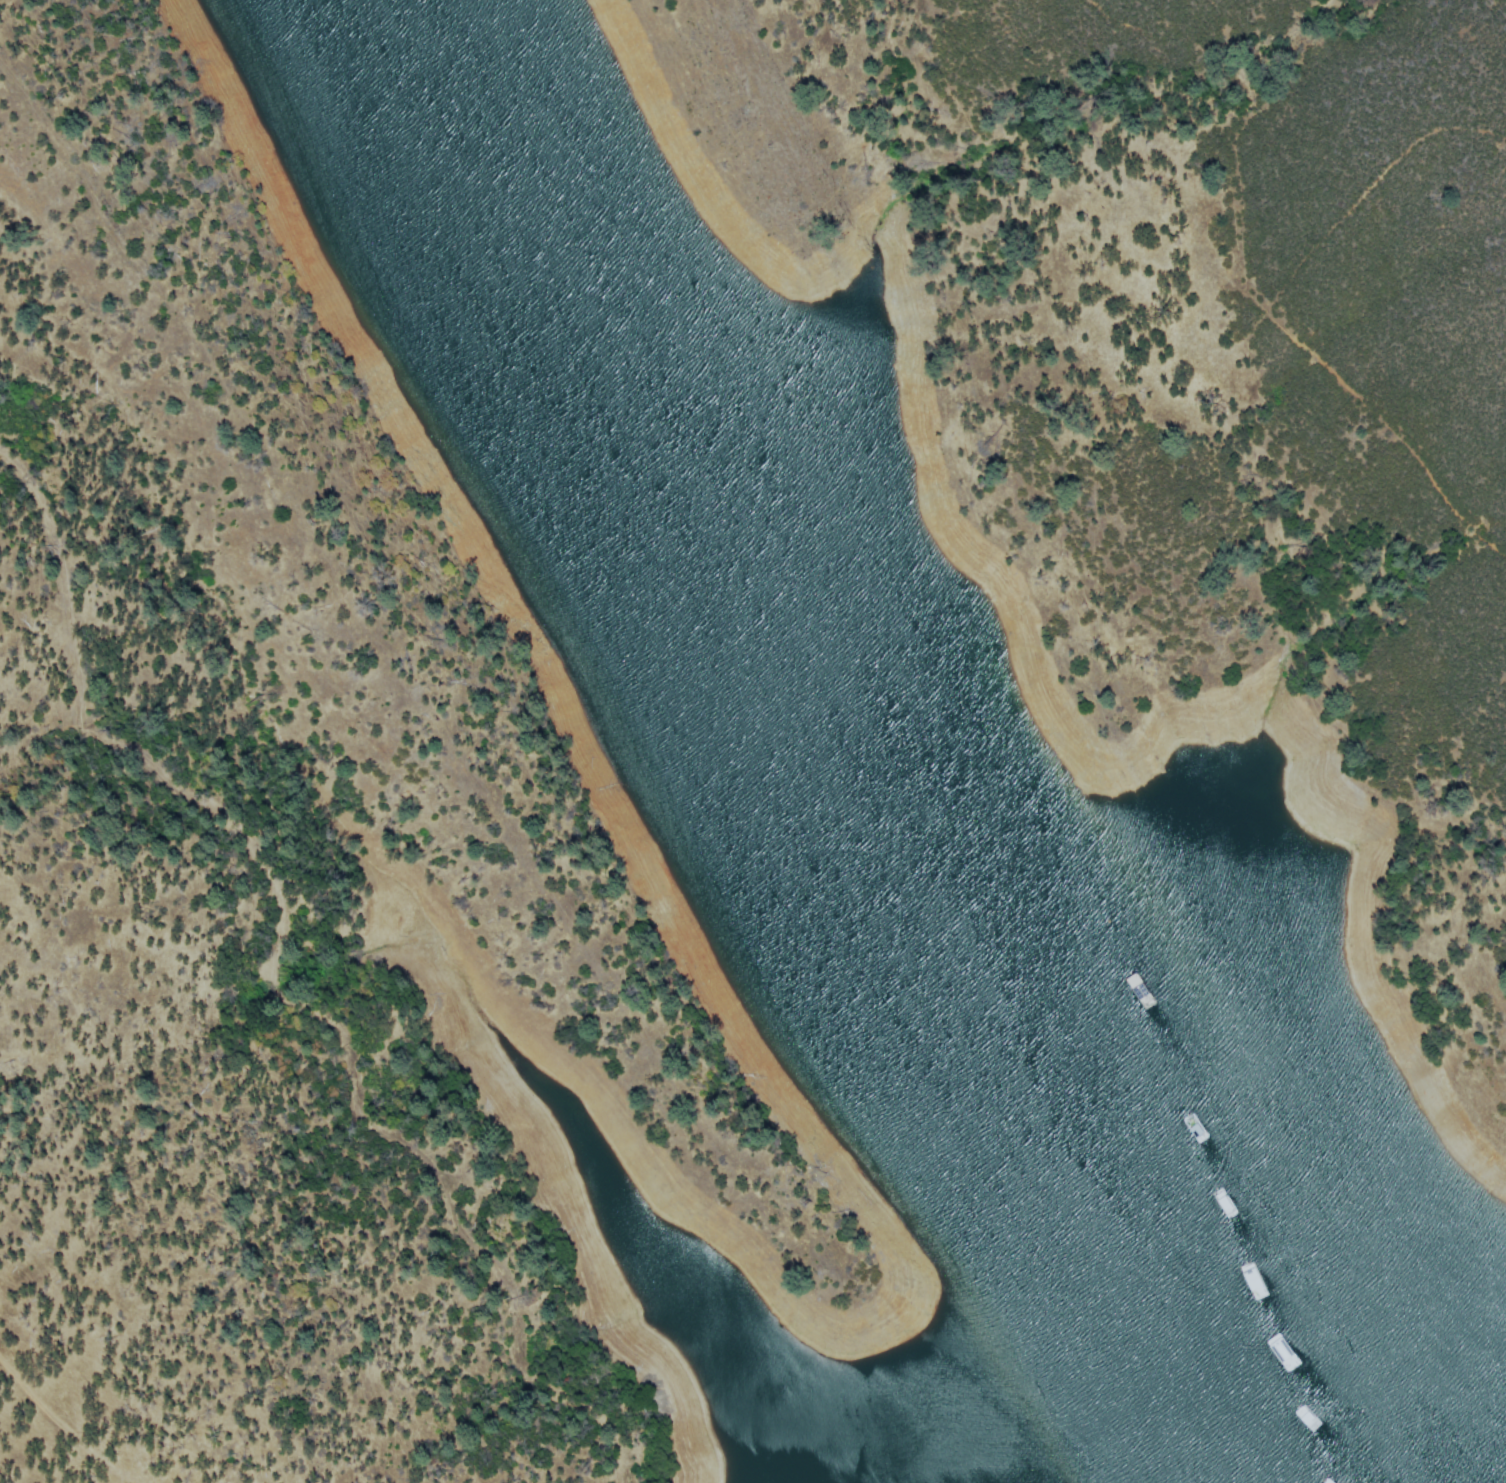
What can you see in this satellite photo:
building: (1105, 1028)
building: (1137, 1110)

